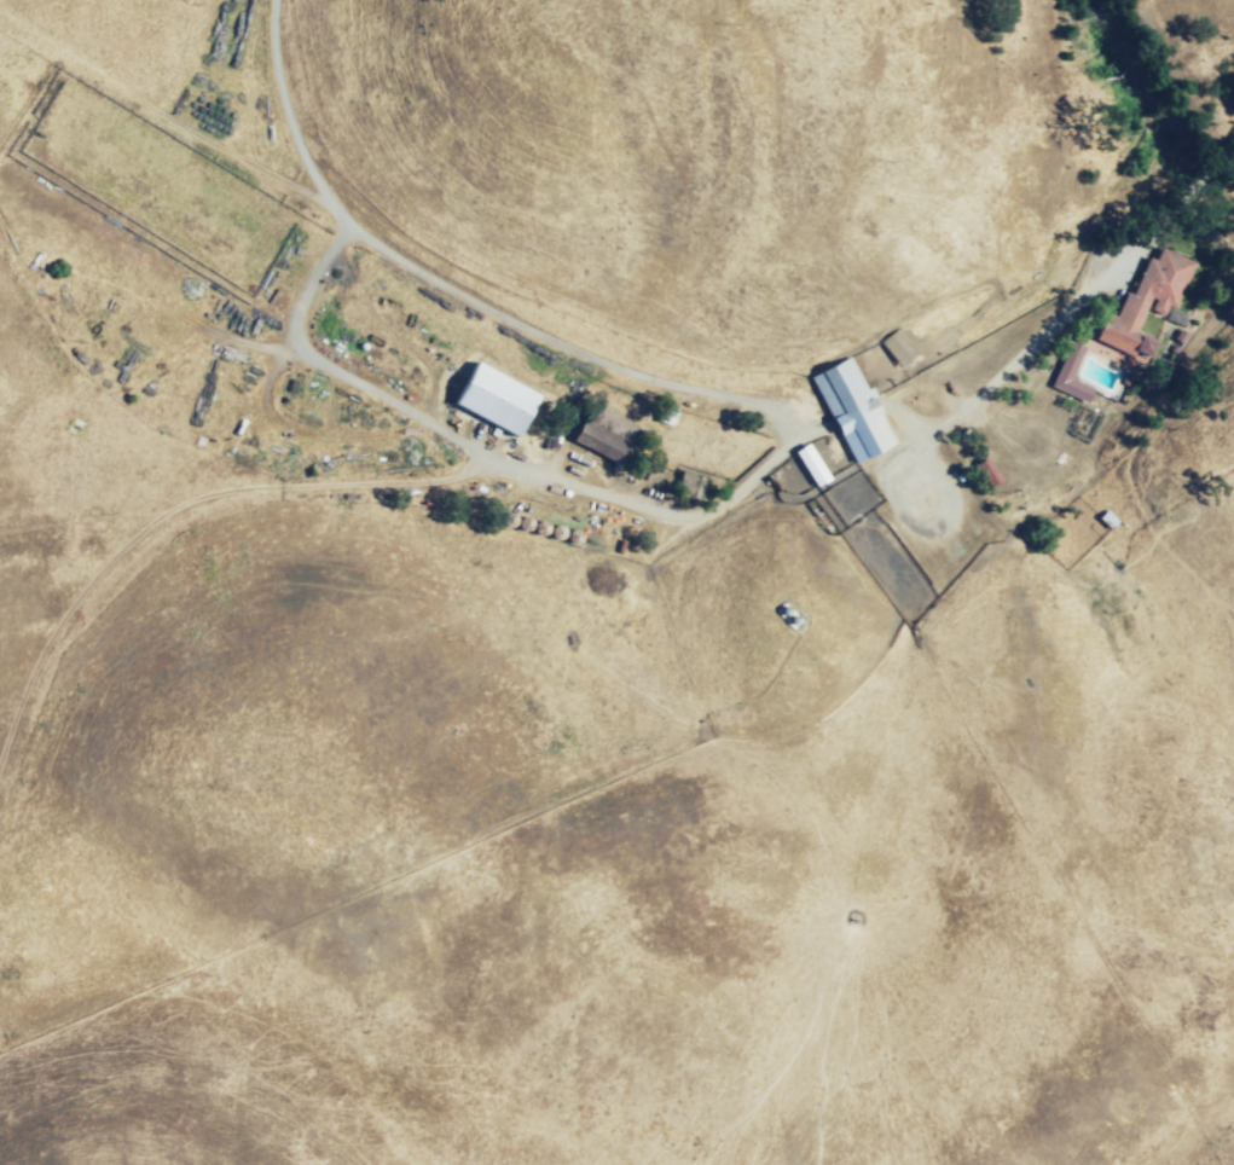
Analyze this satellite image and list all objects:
building: (1151, 290)
building: (898, 350)
building: (1073, 376)
road: (349, 381)
building: (493, 395)
road: (732, 406)
building: (852, 410)
building: (610, 436)
road: (342, 491)

